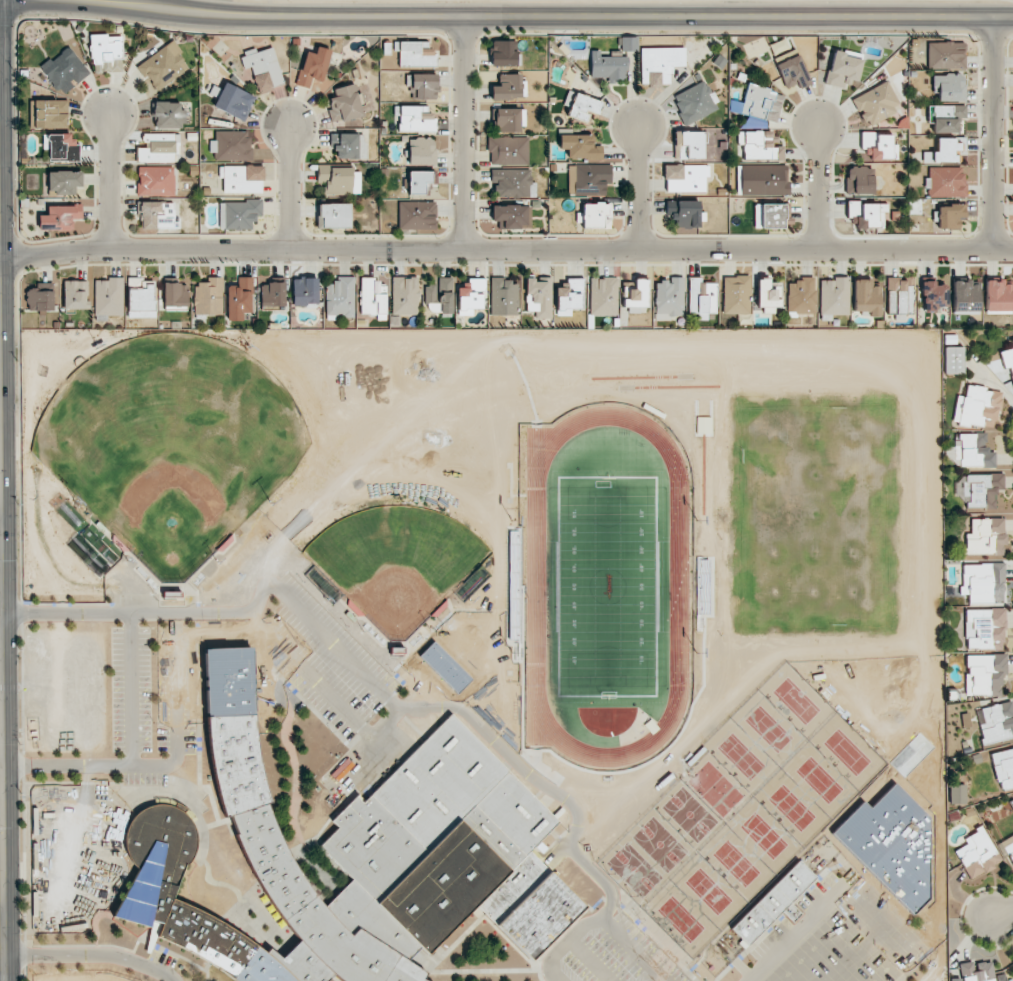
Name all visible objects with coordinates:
road: (555, 18)
building: (629, 44)
building: (778, 46)
building: (106, 52)
building: (415, 54)
building: (503, 54)
building: (945, 55)
building: (659, 64)
building: (608, 65)
building: (163, 66)
building: (313, 66)
building: (263, 68)
building: (843, 69)
building: (64, 70)
building: (792, 72)
building: (422, 86)
building: (508, 87)
building: (949, 87)
building: (234, 101)
building: (695, 102)
building: (761, 102)
building: (876, 103)
building: (345, 104)
building: (583, 107)
building: (941, 112)
building: (50, 114)
building: (168, 115)
building: (415, 119)
building: (509, 120)
building: (949, 121)
road: (463, 133)
road: (992, 133)
building: (688, 145)
building: (231, 146)
building: (347, 146)
building: (758, 146)
building: (61, 147)
building: (579, 147)
building: (879, 147)
building: (160, 148)
building: (508, 150)
building: (946, 150)
building: (421, 151)
building: (685, 178)
building: (241, 179)
building: (589, 179)
building: (338, 180)
building: (762, 180)
building: (859, 180)
road: (109, 181)
building: (155, 181)
building: (417, 181)
building: (63, 182)
building: (945, 182)
building: (513, 183)
road: (288, 187)
road: (639, 187)
road: (817, 187)
building: (238, 214)
building: (416, 214)
building: (686, 214)
building: (867, 214)
building: (157, 215)
building: (334, 215)
building: (596, 215)
building: (768, 215)
building: (949, 215)
building: (511, 216)
building: (60, 217)
road: (506, 248)
road: (350, 264)
road: (21, 266)
road: (11, 276)
building: (305, 292)
building: (272, 293)
building: (75, 294)
building: (635, 294)
building: (405, 295)
building: (736, 295)
building: (768, 295)
building: (965, 295)
building: (998, 295)
building: (175, 296)
building: (439, 296)
building: (471, 296)
building: (569, 296)
building: (603, 296)
building: (801, 296)
building: (834, 296)
building: (933, 296)
building: (208, 297)
building: (340, 297)
building: (504, 297)
building: (538, 297)
building: (701, 297)
building: (866, 297)
building: (899, 297)
building: (40, 298)
building: (108, 298)
building: (141, 298)
building: (373, 298)
building: (669, 298)
building: (239, 299)
building: (950, 339)
building: (1012, 340)
building: (953, 360)
building: (1007, 360)
road: (526, 386)
building: (979, 406)
road: (1006, 434)
park: (171, 444)
building: (975, 451)
road: (511, 486)
building: (983, 489)
building: (986, 539)
park: (397, 562)
track: (679, 578)
building: (984, 582)
park: (606, 584)
road: (450, 603)
road: (454, 609)
road: (21, 612)
building: (986, 628)
road: (323, 634)
parking lot: (319, 660)
building: (986, 673)
parking lot: (152, 685)
road: (21, 689)
road: (130, 690)
building: (224, 694)
road: (525, 696)
park: (796, 701)
road: (388, 719)
road: (685, 723)
building: (998, 723)
park: (768, 728)
road: (390, 742)
building: (964, 744)
road: (537, 748)
building: (966, 750)
park: (847, 752)
park: (741, 756)
road: (369, 762)
road: (22, 766)
road: (162, 766)
building: (1004, 766)
park: (819, 780)
park: (715, 789)
building: (956, 794)
road: (2, 797)
park: (791, 808)
park: (689, 814)
building: (849, 820)
park: (764, 836)
building: (865, 836)
park: (660, 844)
building: (1012, 849)
building: (979, 854)
building: (1011, 857)
road: (23, 860)
park: (736, 863)
building: (363, 864)
park: (634, 869)
park: (708, 891)
building: (774, 903)
road: (2, 904)
road: (1002, 912)
road: (961, 918)
park: (681, 919)
road: (2, 925)
road: (800, 928)
road: (906, 928)
parking lot: (840, 938)
road: (843, 942)
road: (563, 944)
park: (845, 947)
parking lot: (608, 952)
road: (24, 955)
road: (92, 955)
road: (884, 956)
road: (591, 960)
building: (1012, 961)
building: (976, 971)
road: (25, 974)
building: (999, 977)
building: (954, 979)

